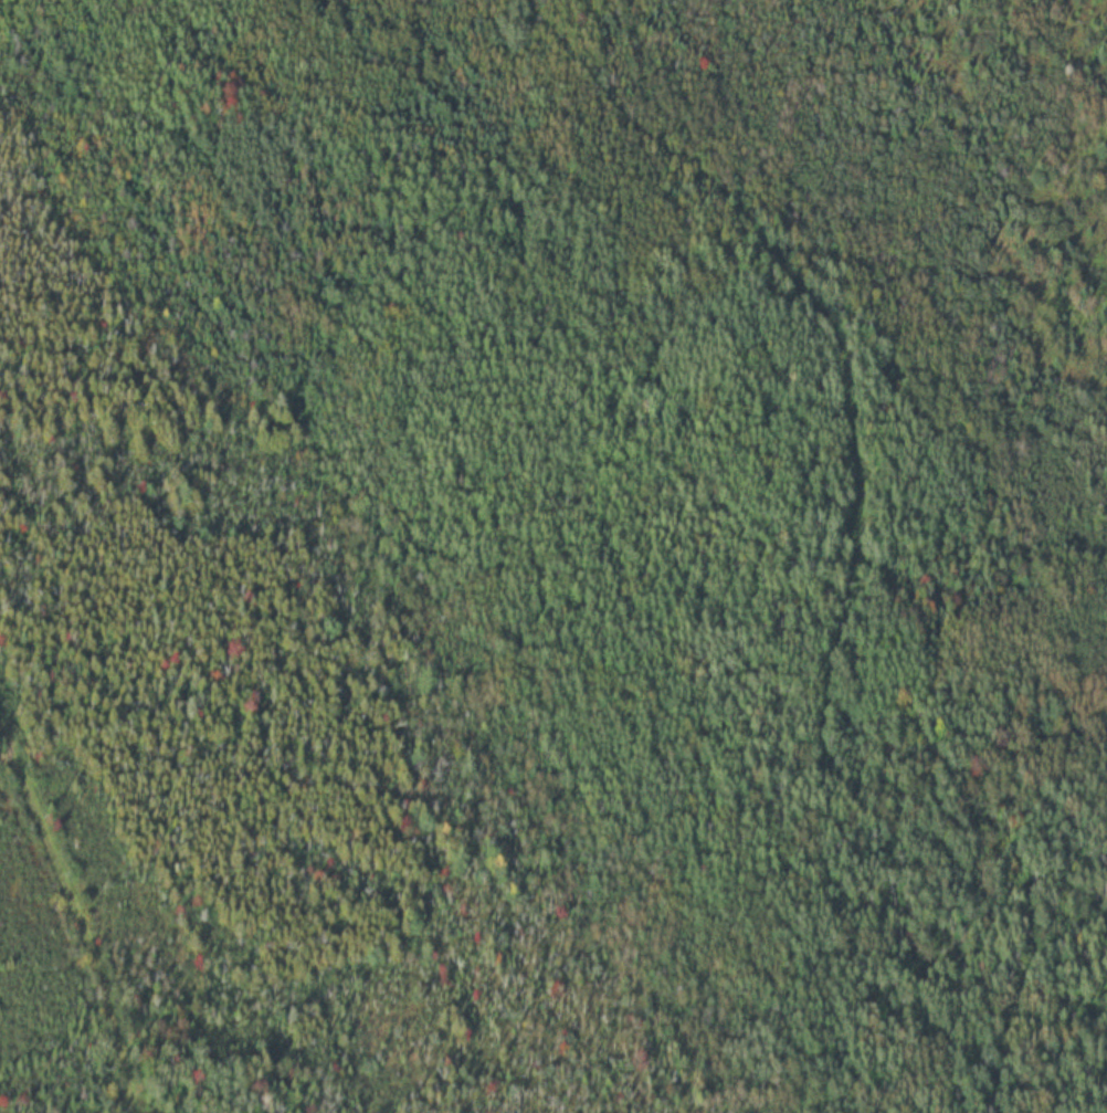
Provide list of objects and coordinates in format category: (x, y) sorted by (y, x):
road: (80, 913)

